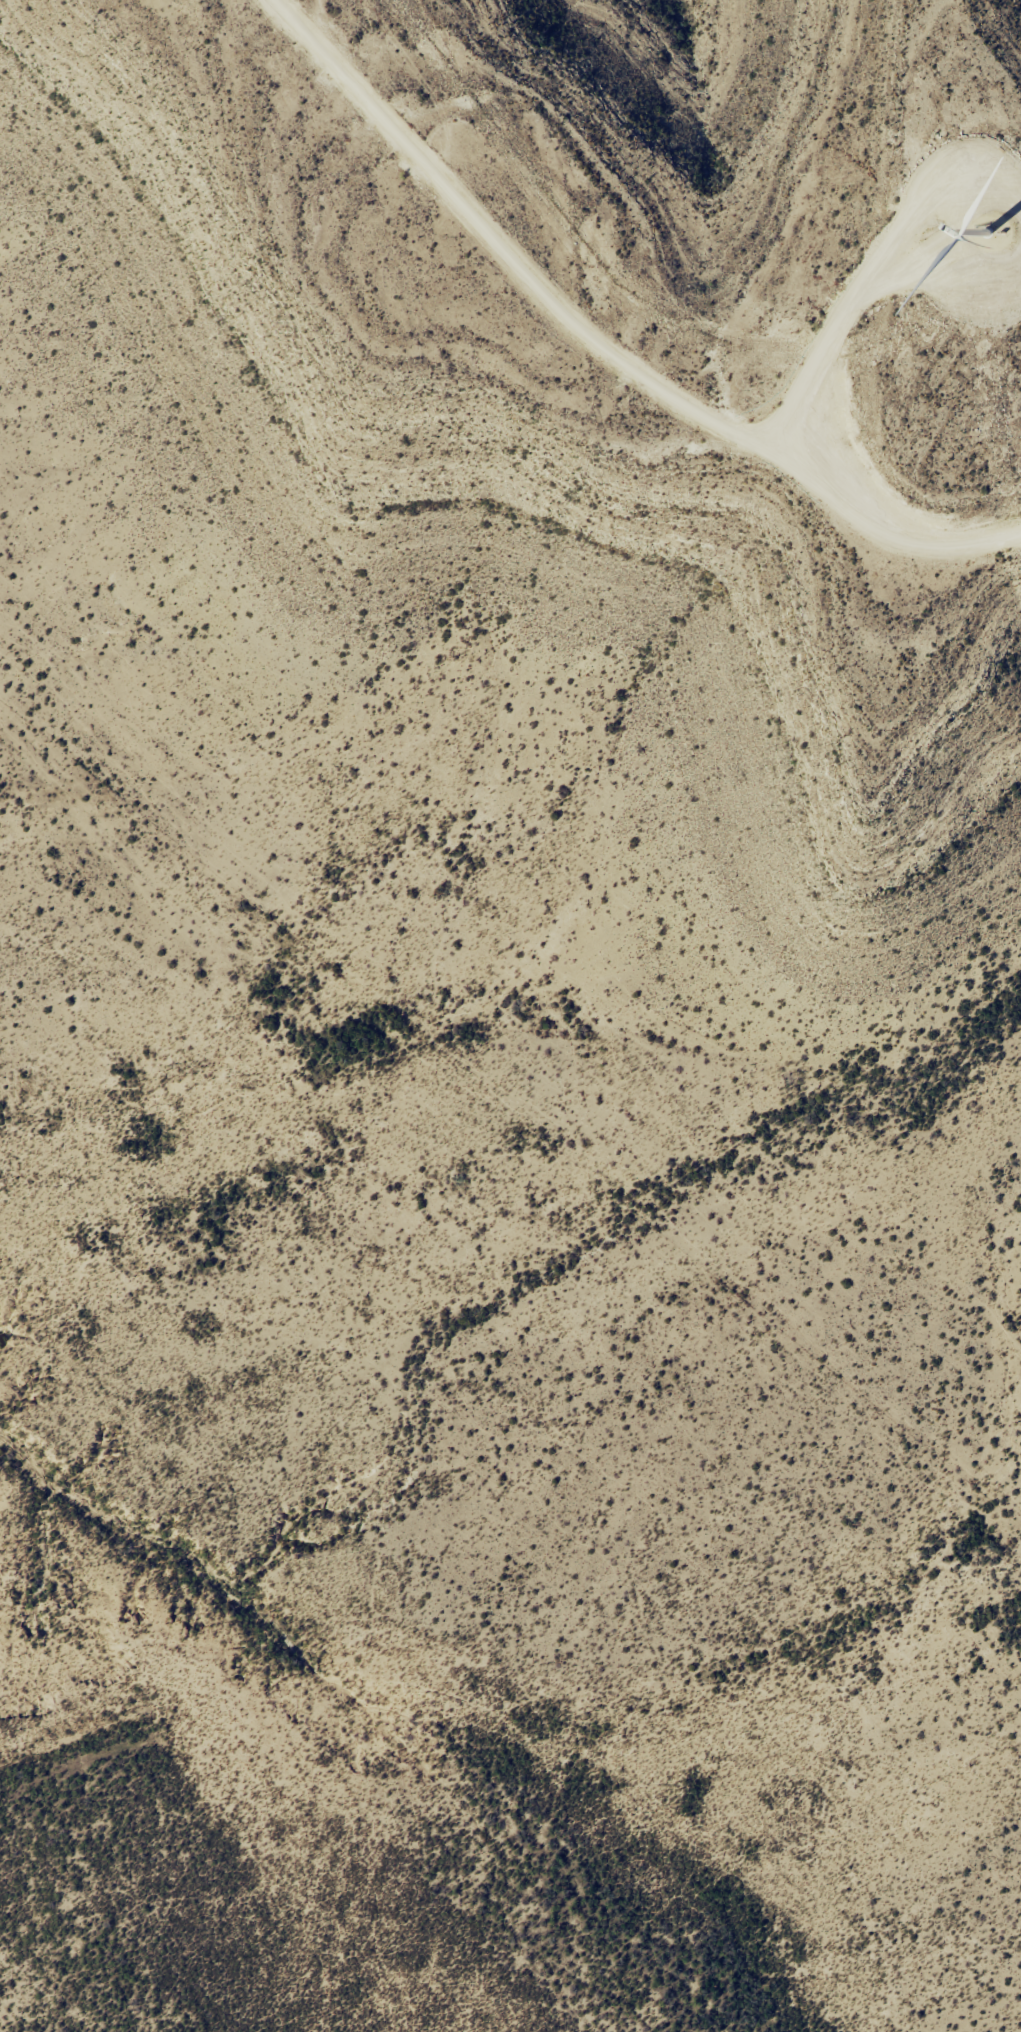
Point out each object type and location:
wind turbine: (987, 232)

